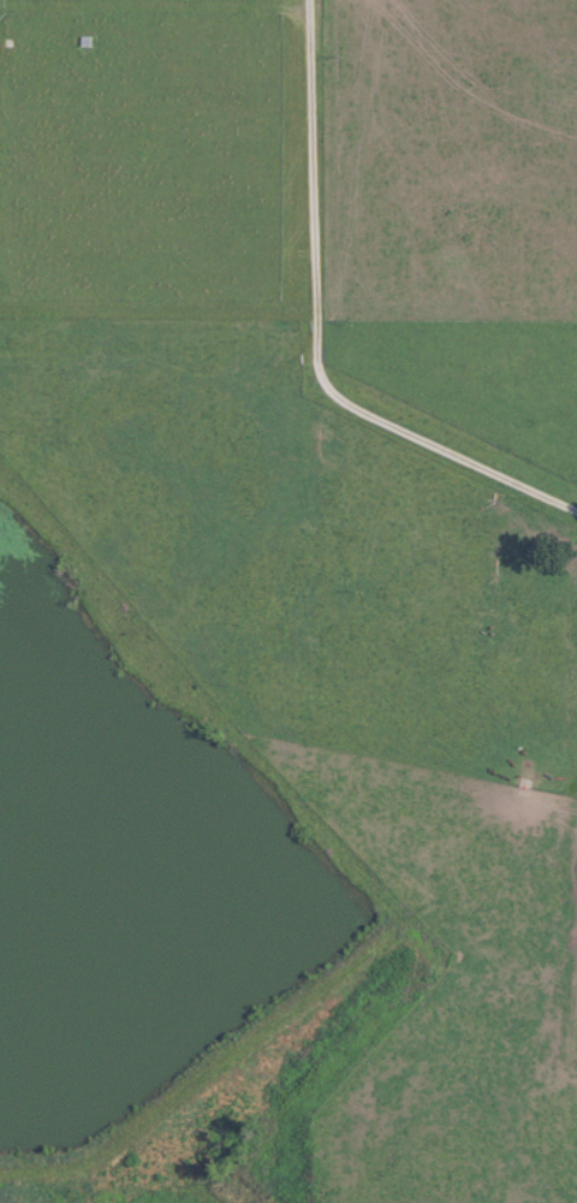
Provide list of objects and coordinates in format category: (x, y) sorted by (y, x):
road: (325, 327)

